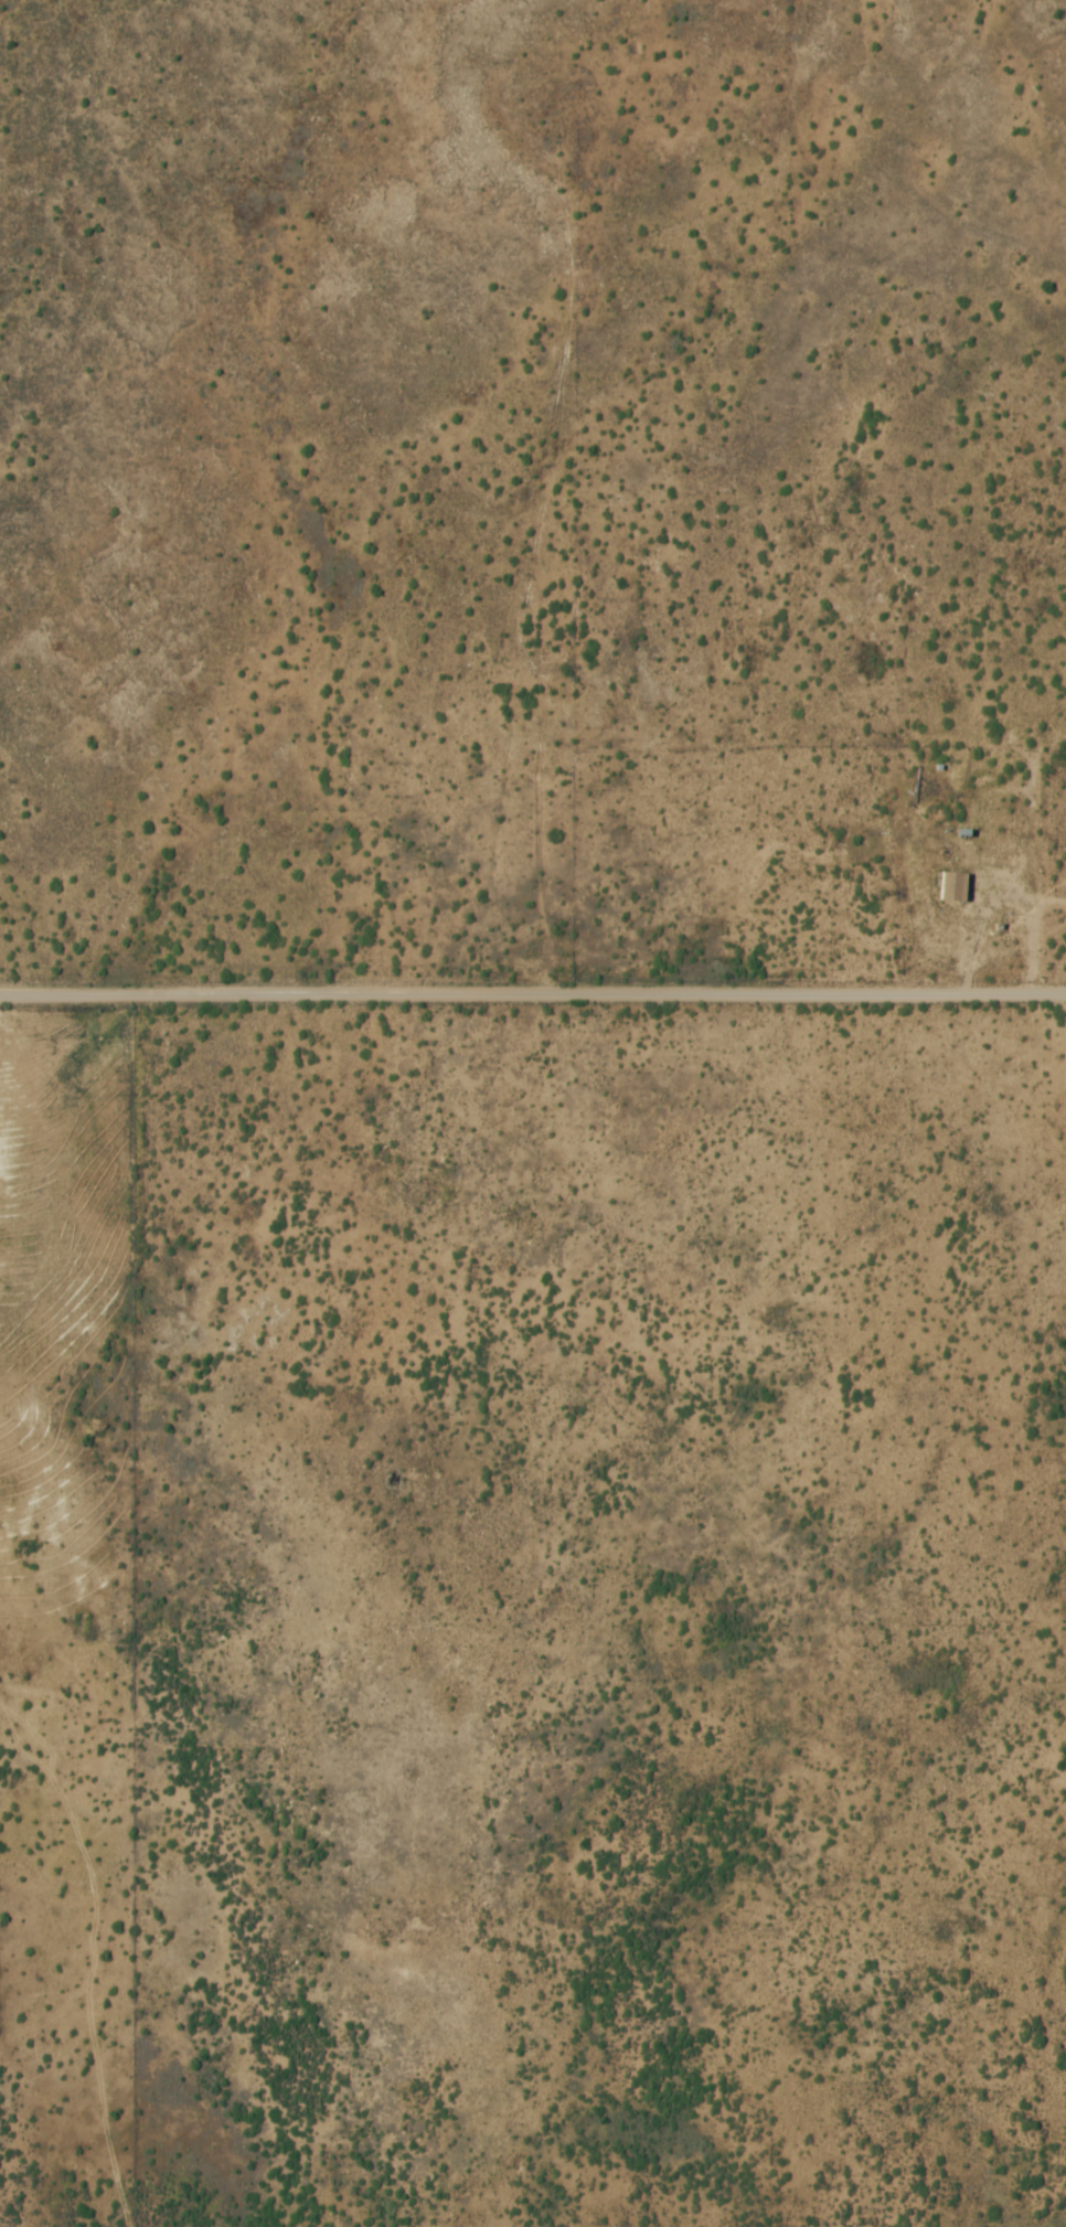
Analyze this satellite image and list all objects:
building: (949, 885)
road: (533, 992)

